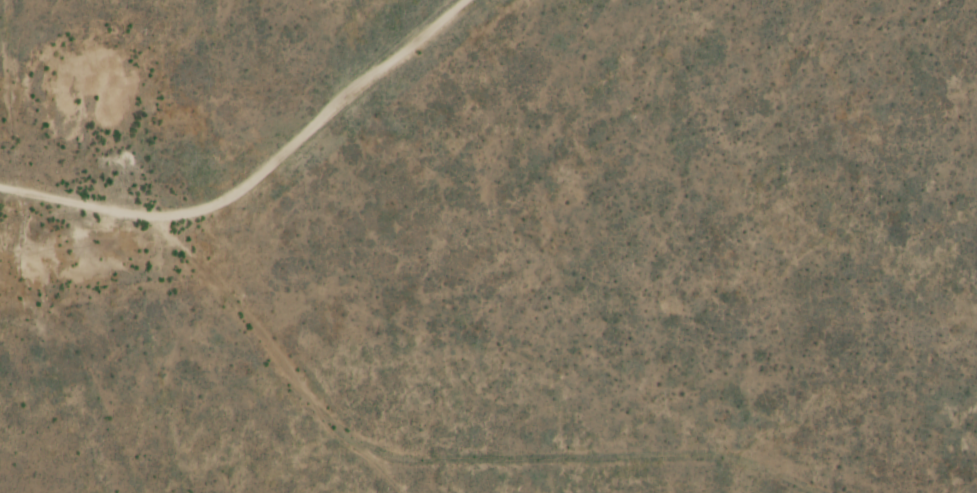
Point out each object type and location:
road: (263, 220)
road: (130, 223)
road: (769, 246)

